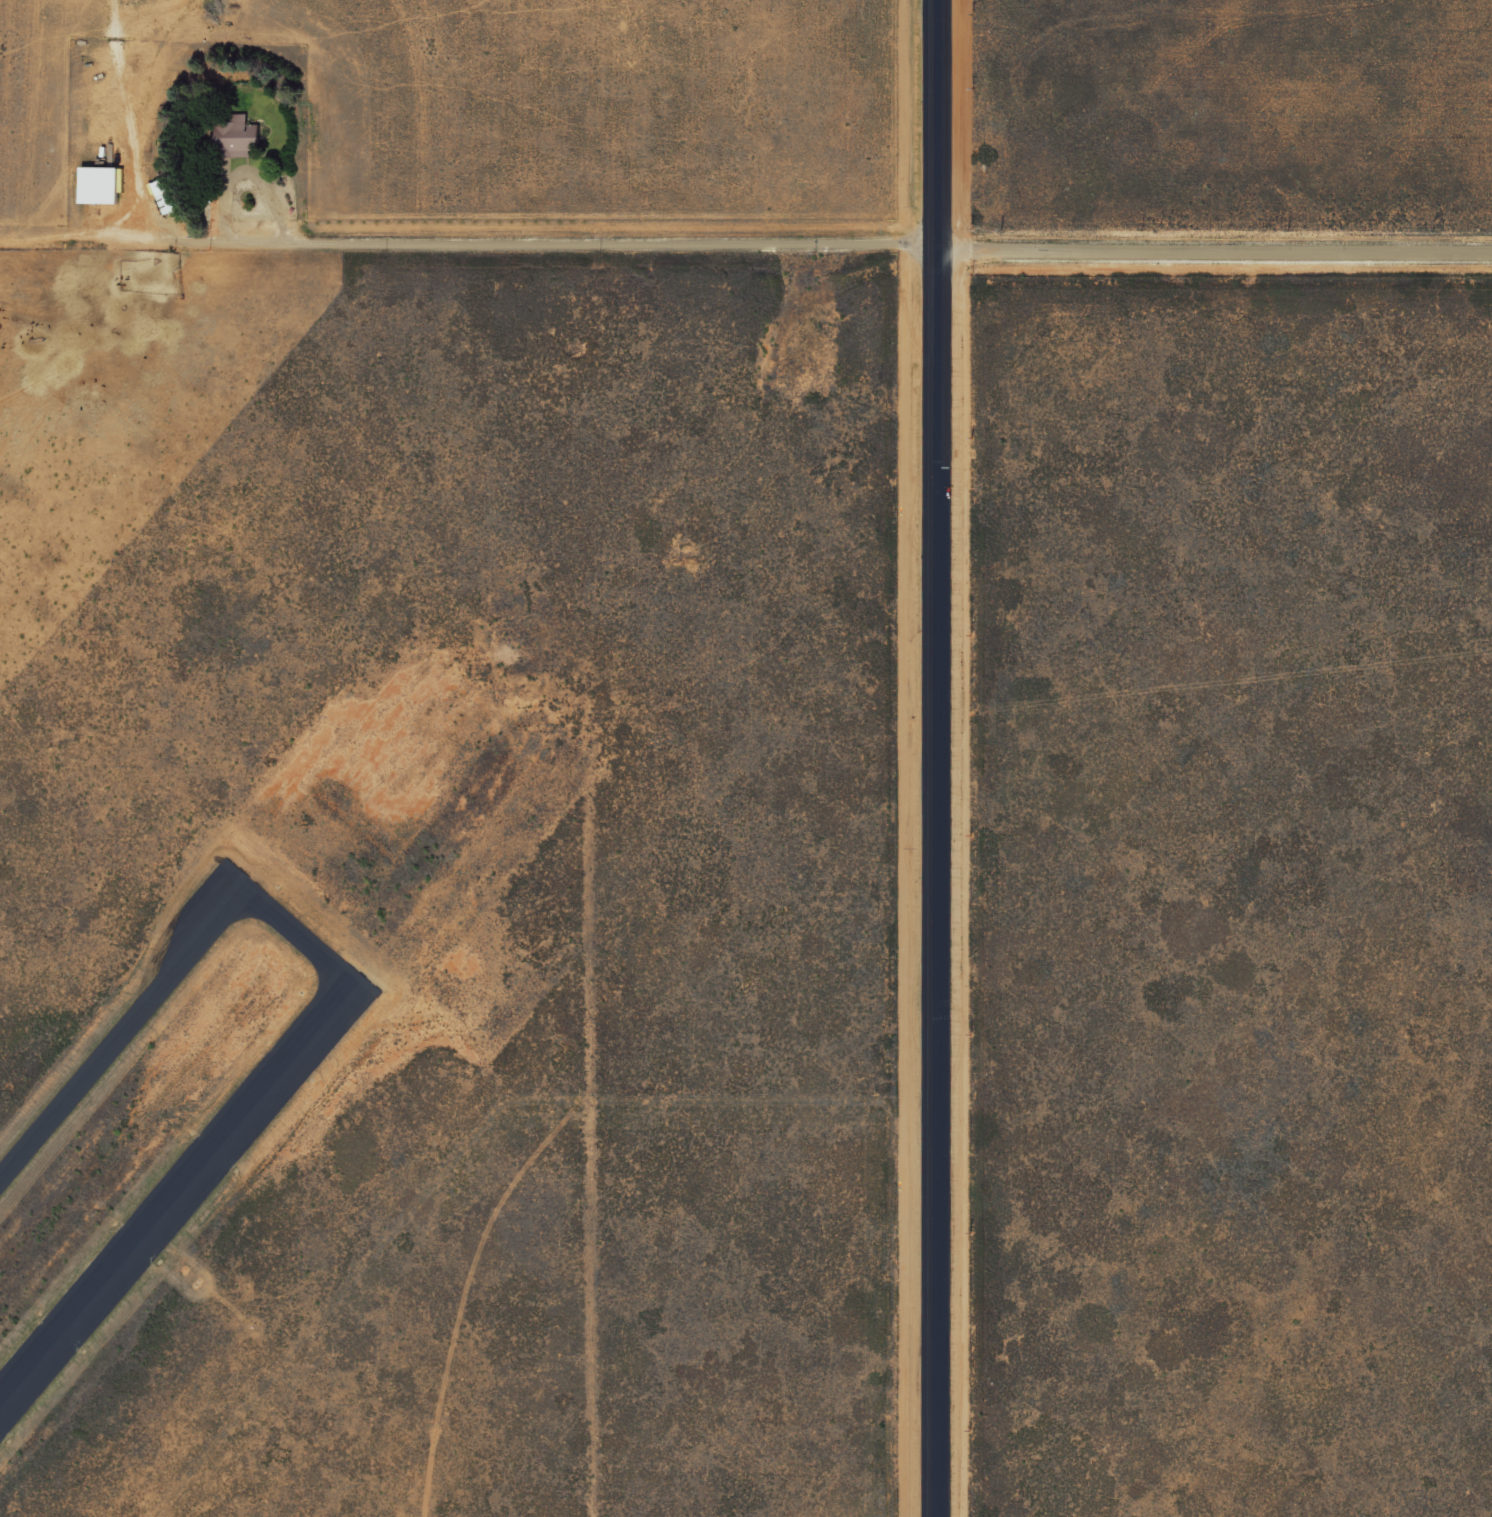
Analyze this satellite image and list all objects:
building: (232, 136)
building: (160, 196)
road: (1213, 241)
road: (932, 758)
airport: (405, 763)
airport taxiway: (301, 938)
airport taxiway: (125, 1035)
airport runway: (180, 1193)

